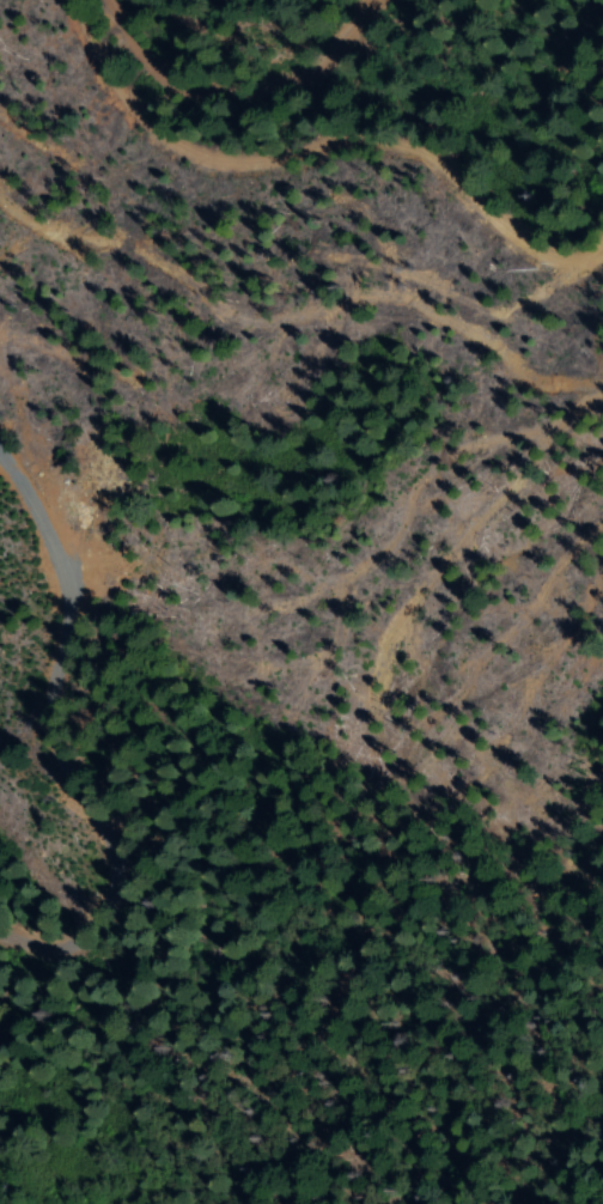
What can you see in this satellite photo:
road: (322, 147)

